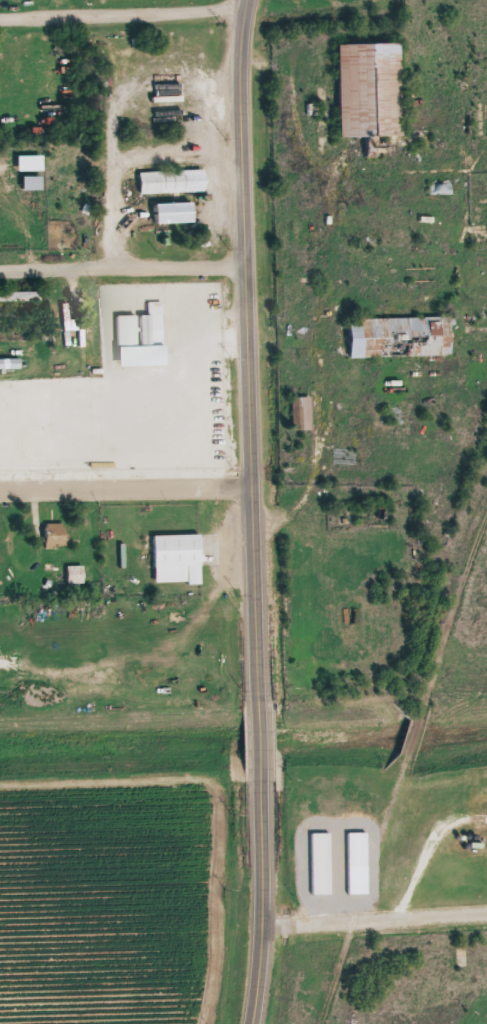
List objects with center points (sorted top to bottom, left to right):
road: (245, 6)
road: (248, 6)
road: (123, 16)
building: (371, 91)
building: (31, 164)
building: (172, 182)
building: (33, 184)
building: (174, 213)
building: (413, 245)
road: (123, 275)
building: (20, 296)
building: (70, 316)
building: (142, 328)
building: (401, 338)
building: (303, 412)
building: (209, 450)
building: (13, 455)
building: (73, 460)
road: (129, 491)
road: (260, 518)
building: (3, 532)
building: (56, 535)
building: (178, 558)
building: (75, 575)
railway: (401, 771)
building: (322, 863)
building: (486, 870)
road: (377, 921)

